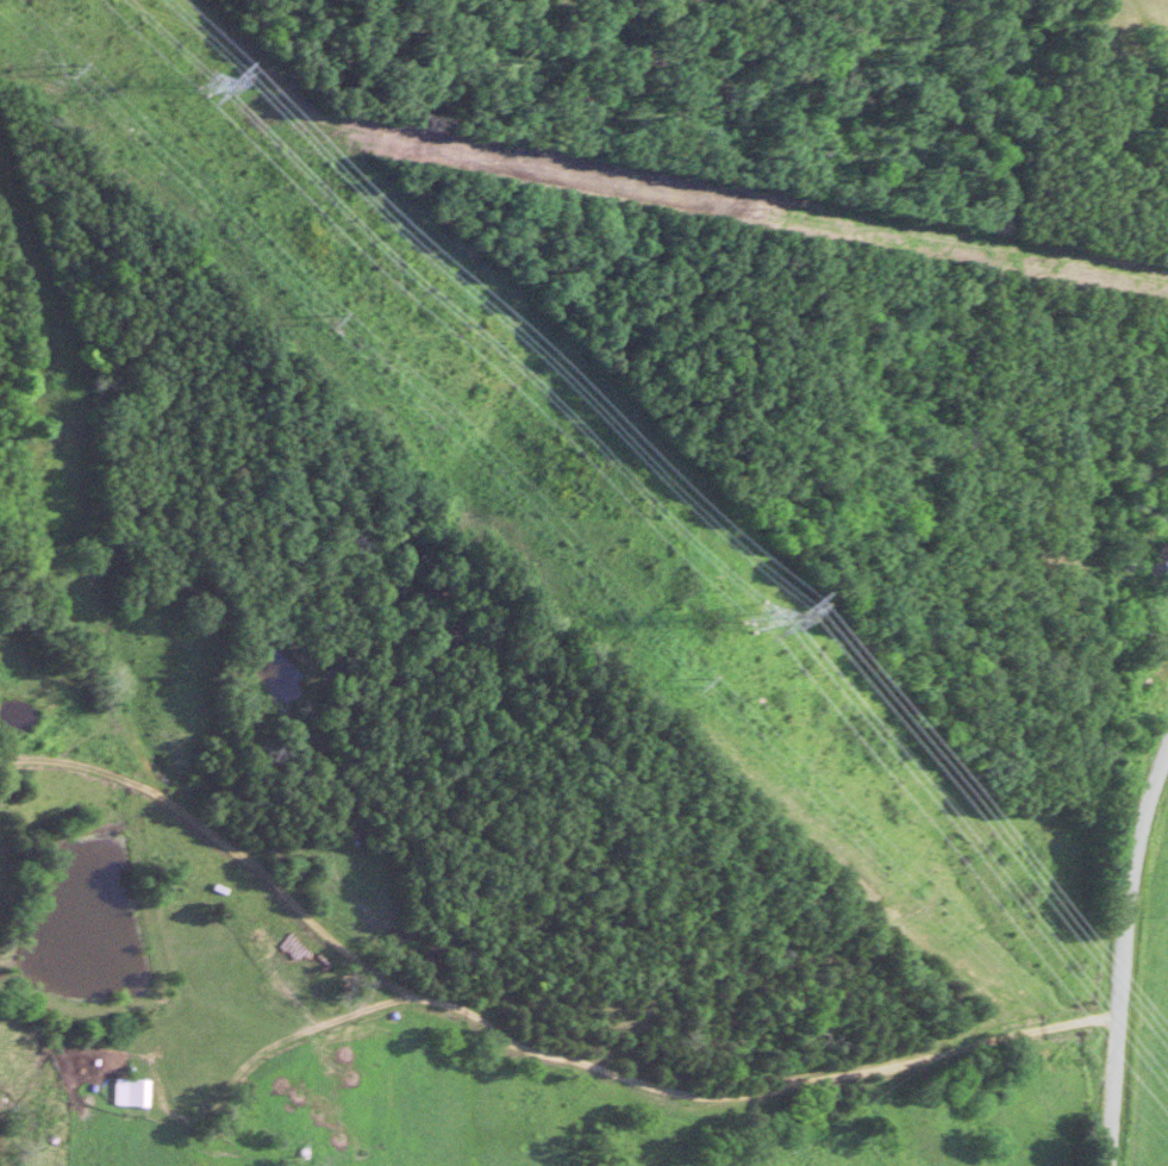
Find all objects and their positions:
power tower: (199, 85)
building: (1155, 561)
power tower: (748, 617)
road: (81, 769)
road: (1126, 952)
road: (407, 991)
road: (270, 1046)
building: (124, 1092)

